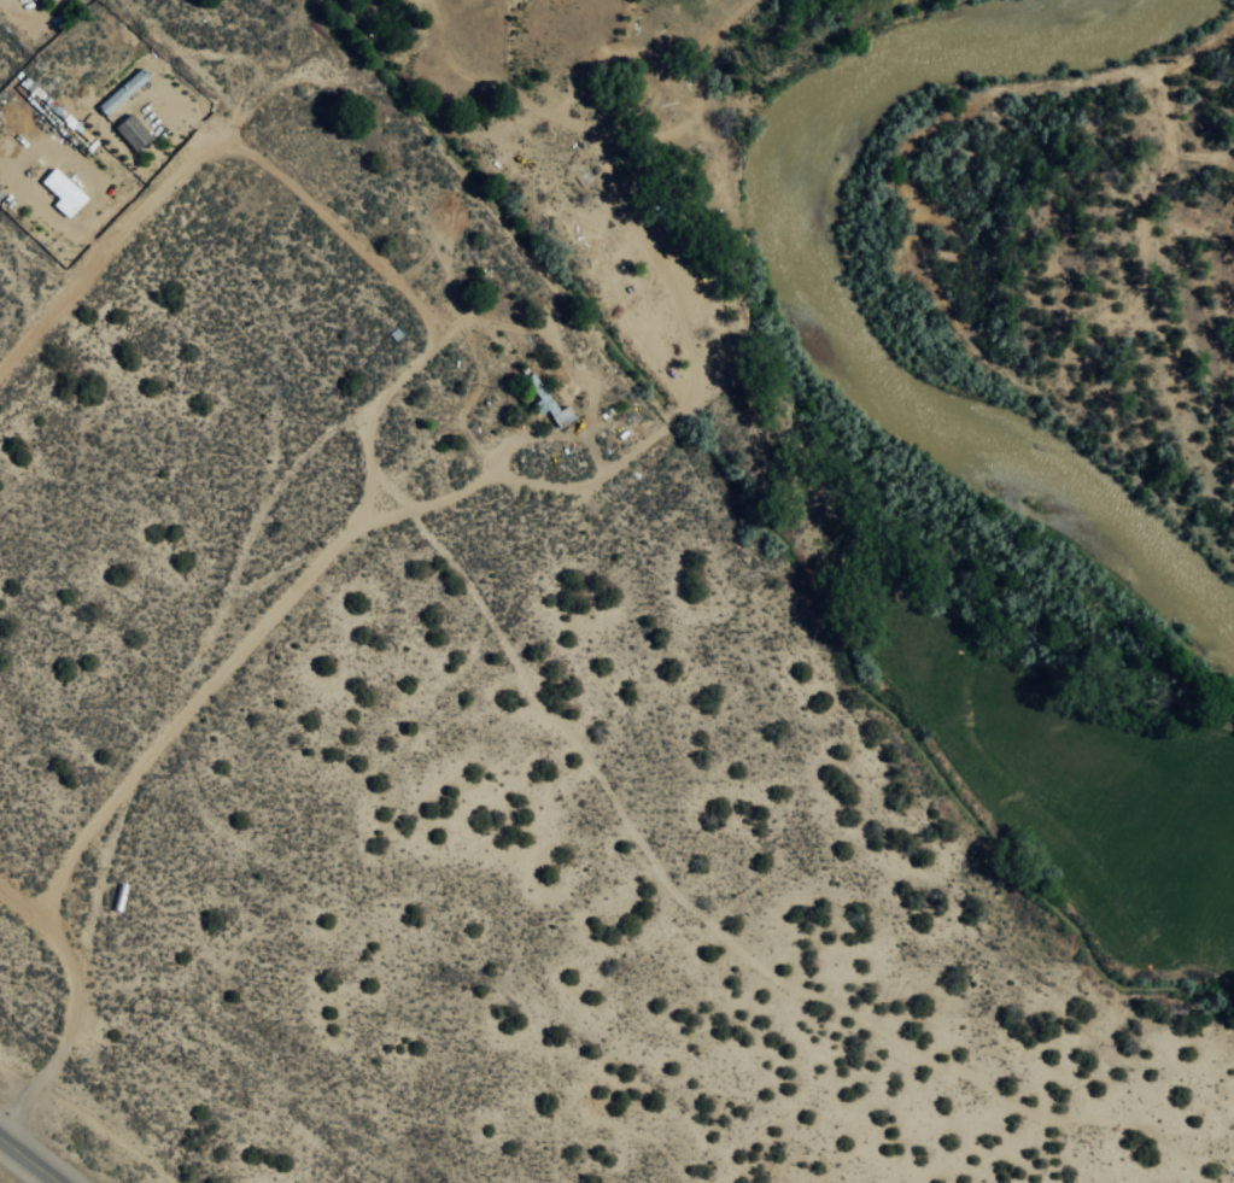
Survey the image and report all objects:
building: (41, 0)
building: (409, 22)
building: (125, 94)
building: (134, 134)
road: (592, 201)
road: (63, 256)
river: (847, 315)
building: (503, 345)
building: (552, 405)
road: (496, 660)
road: (110, 732)
road: (667, 738)
road: (761, 843)
building: (123, 900)
power tower: (169, 1006)
road: (1095, 1073)
road: (29, 1160)

